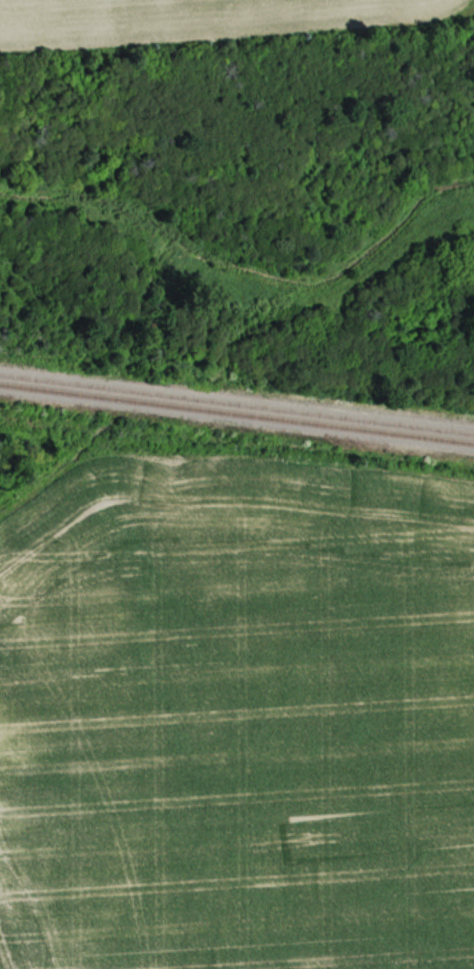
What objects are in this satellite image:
river: (150, 234)
railway: (237, 405)
railway: (237, 414)

